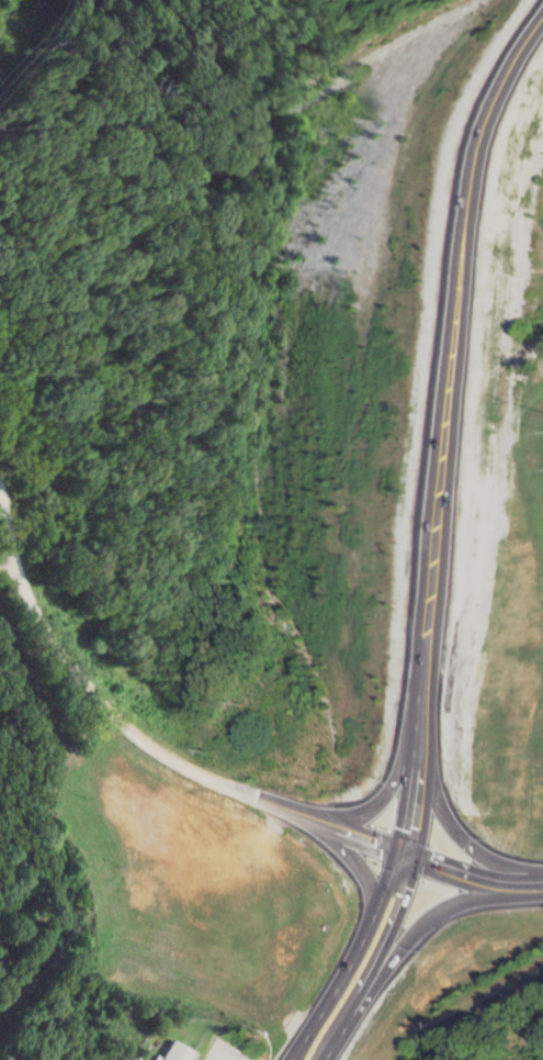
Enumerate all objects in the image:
road: (455, 439)
road: (133, 735)
road: (391, 799)
road: (463, 826)
traffic signals: (414, 853)
road: (361, 873)
road: (475, 880)
road: (440, 915)
road: (351, 957)
road: (376, 961)
building: (172, 1052)

